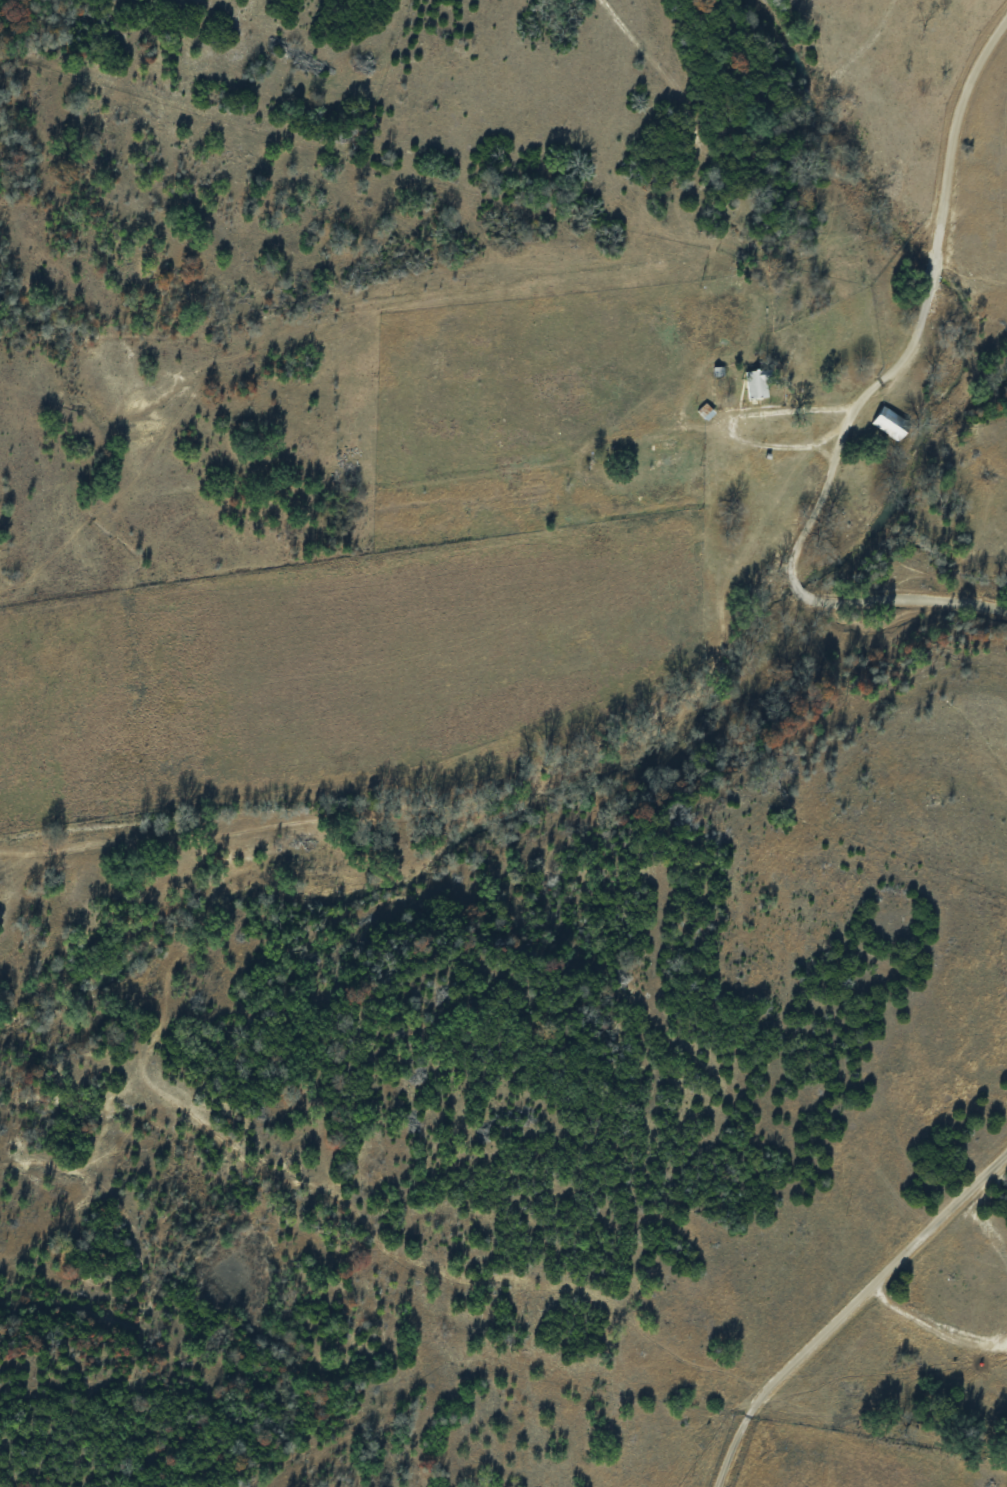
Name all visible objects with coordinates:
building: (755, 384)
road: (871, 405)
building: (888, 423)
building: (663, 443)
road: (849, 1307)

